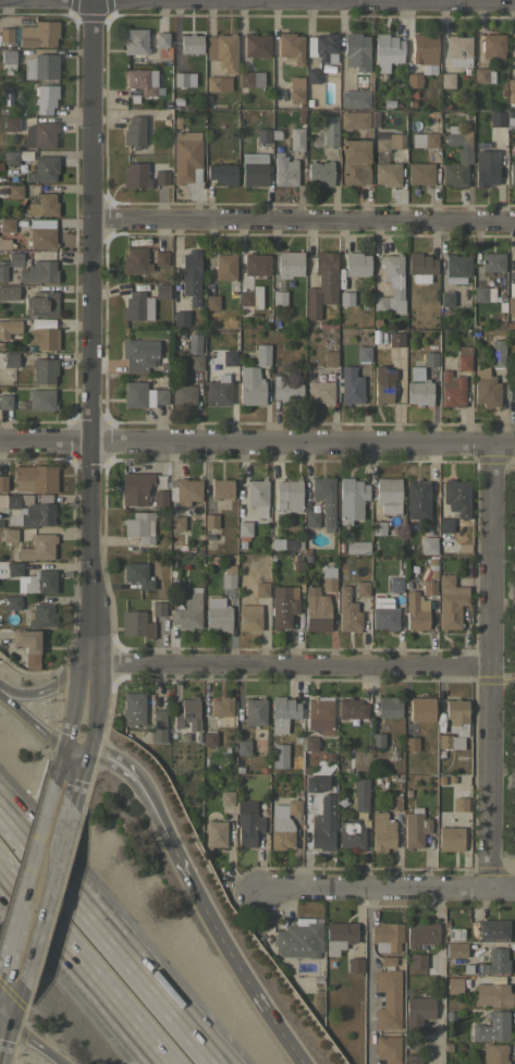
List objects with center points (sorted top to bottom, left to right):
building: (38, 34)
building: (7, 35)
building: (162, 39)
building: (136, 41)
building: (514, 41)
building: (192, 42)
building: (257, 45)
building: (291, 46)
building: (326, 47)
building: (493, 47)
building: (356, 50)
building: (388, 50)
building: (458, 50)
building: (223, 51)
building: (426, 51)
building: (8, 61)
building: (41, 66)
building: (483, 74)
building: (314, 75)
building: (181, 78)
building: (252, 78)
building: (414, 80)
building: (447, 80)
building: (143, 81)
building: (219, 83)
building: (296, 89)
building: (511, 90)
building: (46, 97)
building: (133, 99)
building: (354, 99)
building: (388, 103)
building: (498, 119)
building: (354, 120)
building: (12, 124)
building: (135, 131)
building: (329, 132)
building: (40, 135)
building: (263, 135)
building: (297, 138)
building: (425, 139)
building: (390, 142)
building: (186, 156)
building: (457, 156)
building: (11, 158)
building: (355, 161)
building: (486, 167)
building: (42, 169)
building: (254, 169)
building: (284, 170)
building: (221, 173)
building: (320, 173)
building: (387, 173)
building: (420, 173)
building: (512, 173)
building: (136, 175)
building: (161, 176)
building: (14, 192)
building: (44, 205)
road: (303, 219)
building: (7, 225)
building: (41, 233)
building: (4, 244)
building: (161, 258)
building: (135, 260)
building: (492, 261)
building: (10, 262)
building: (256, 264)
building: (290, 264)
building: (356, 264)
building: (224, 266)
building: (420, 267)
building: (456, 268)
building: (39, 271)
building: (191, 276)
building: (321, 283)
building: (391, 284)
building: (161, 291)
building: (8, 292)
building: (480, 294)
building: (249, 296)
building: (279, 297)
building: (345, 298)
building: (445, 298)
building: (211, 302)
building: (41, 304)
building: (137, 306)
building: (511, 306)
building: (180, 318)
building: (376, 323)
building: (9, 327)
road: (90, 331)
building: (42, 338)
building: (395, 339)
building: (496, 351)
building: (139, 354)
building: (262, 354)
building: (363, 354)
building: (229, 357)
building: (330, 358)
building: (430, 358)
building: (464, 358)
building: (10, 359)
building: (195, 363)
building: (163, 367)
building: (44, 370)
building: (415, 374)
building: (383, 384)
building: (250, 386)
building: (350, 386)
building: (485, 387)
building: (285, 389)
building: (451, 389)
building: (219, 390)
building: (320, 391)
building: (419, 392)
building: (511, 392)
building: (183, 394)
building: (143, 395)
building: (40, 399)
building: (5, 401)
road: (257, 442)
building: (35, 478)
building: (3, 482)
building: (221, 488)
building: (140, 490)
building: (184, 490)
building: (289, 494)
building: (388, 494)
building: (257, 496)
building: (456, 497)
building: (351, 498)
building: (324, 499)
building: (417, 499)
building: (28, 509)
building: (310, 518)
building: (210, 521)
building: (1, 523)
building: (176, 523)
building: (445, 525)
building: (139, 526)
building: (378, 527)
building: (244, 528)
building: (206, 534)
building: (9, 535)
building: (241, 545)
building: (283, 545)
building: (428, 545)
building: (38, 547)
building: (356, 547)
building: (430, 561)
building: (295, 562)
building: (14, 567)
building: (2, 570)
building: (431, 574)
building: (137, 575)
building: (228, 576)
building: (328, 579)
building: (40, 582)
building: (395, 584)
building: (361, 588)
building: (428, 588)
building: (261, 589)
building: (450, 601)
building: (13, 602)
building: (282, 606)
building: (158, 609)
building: (316, 609)
building: (188, 611)
building: (347, 611)
building: (415, 611)
building: (217, 614)
building: (383, 614)
building: (40, 615)
building: (248, 617)
building: (135, 624)
building: (25, 640)
road: (289, 662)
building: (29, 664)
road: (489, 665)
road: (47, 689)
building: (220, 706)
road: (71, 707)
road: (93, 707)
building: (389, 707)
building: (351, 708)
building: (133, 709)
building: (421, 709)
building: (186, 711)
building: (254, 711)
building: (282, 712)
building: (319, 716)
building: (456, 716)
road: (29, 723)
building: (157, 726)
building: (208, 737)
building: (376, 739)
building: (449, 741)
building: (309, 743)
building: (409, 743)
building: (243, 747)
road: (74, 753)
building: (279, 756)
building: (329, 756)
road: (57, 768)
road: (70, 768)
road: (79, 775)
building: (360, 793)
building: (226, 798)
building: (393, 803)
building: (459, 803)
road: (154, 805)
building: (293, 807)
road: (68, 823)
building: (247, 823)
building: (320, 823)
building: (414, 827)
building: (381, 831)
building: (214, 833)
building: (281, 833)
building: (351, 833)
building: (450, 839)
road: (33, 847)
road: (384, 886)
road: (41, 921)
building: (493, 928)
road: (113, 930)
building: (421, 933)
building: (453, 933)
building: (387, 934)
building: (339, 935)
road: (7, 938)
building: (299, 939)
building: (455, 949)
building: (385, 962)
building: (417, 962)
building: (494, 962)
building: (354, 965)
road: (79, 968)
road: (245, 975)
road: (367, 975)
road: (440, 975)
building: (454, 984)
building: (491, 994)
building: (388, 999)
road: (9, 1004)
building: (417, 1012)
building: (449, 1016)
building: (491, 1027)
road: (33, 1040)
building: (446, 1048)
building: (388, 1049)
building: (494, 1053)
building: (413, 1059)

